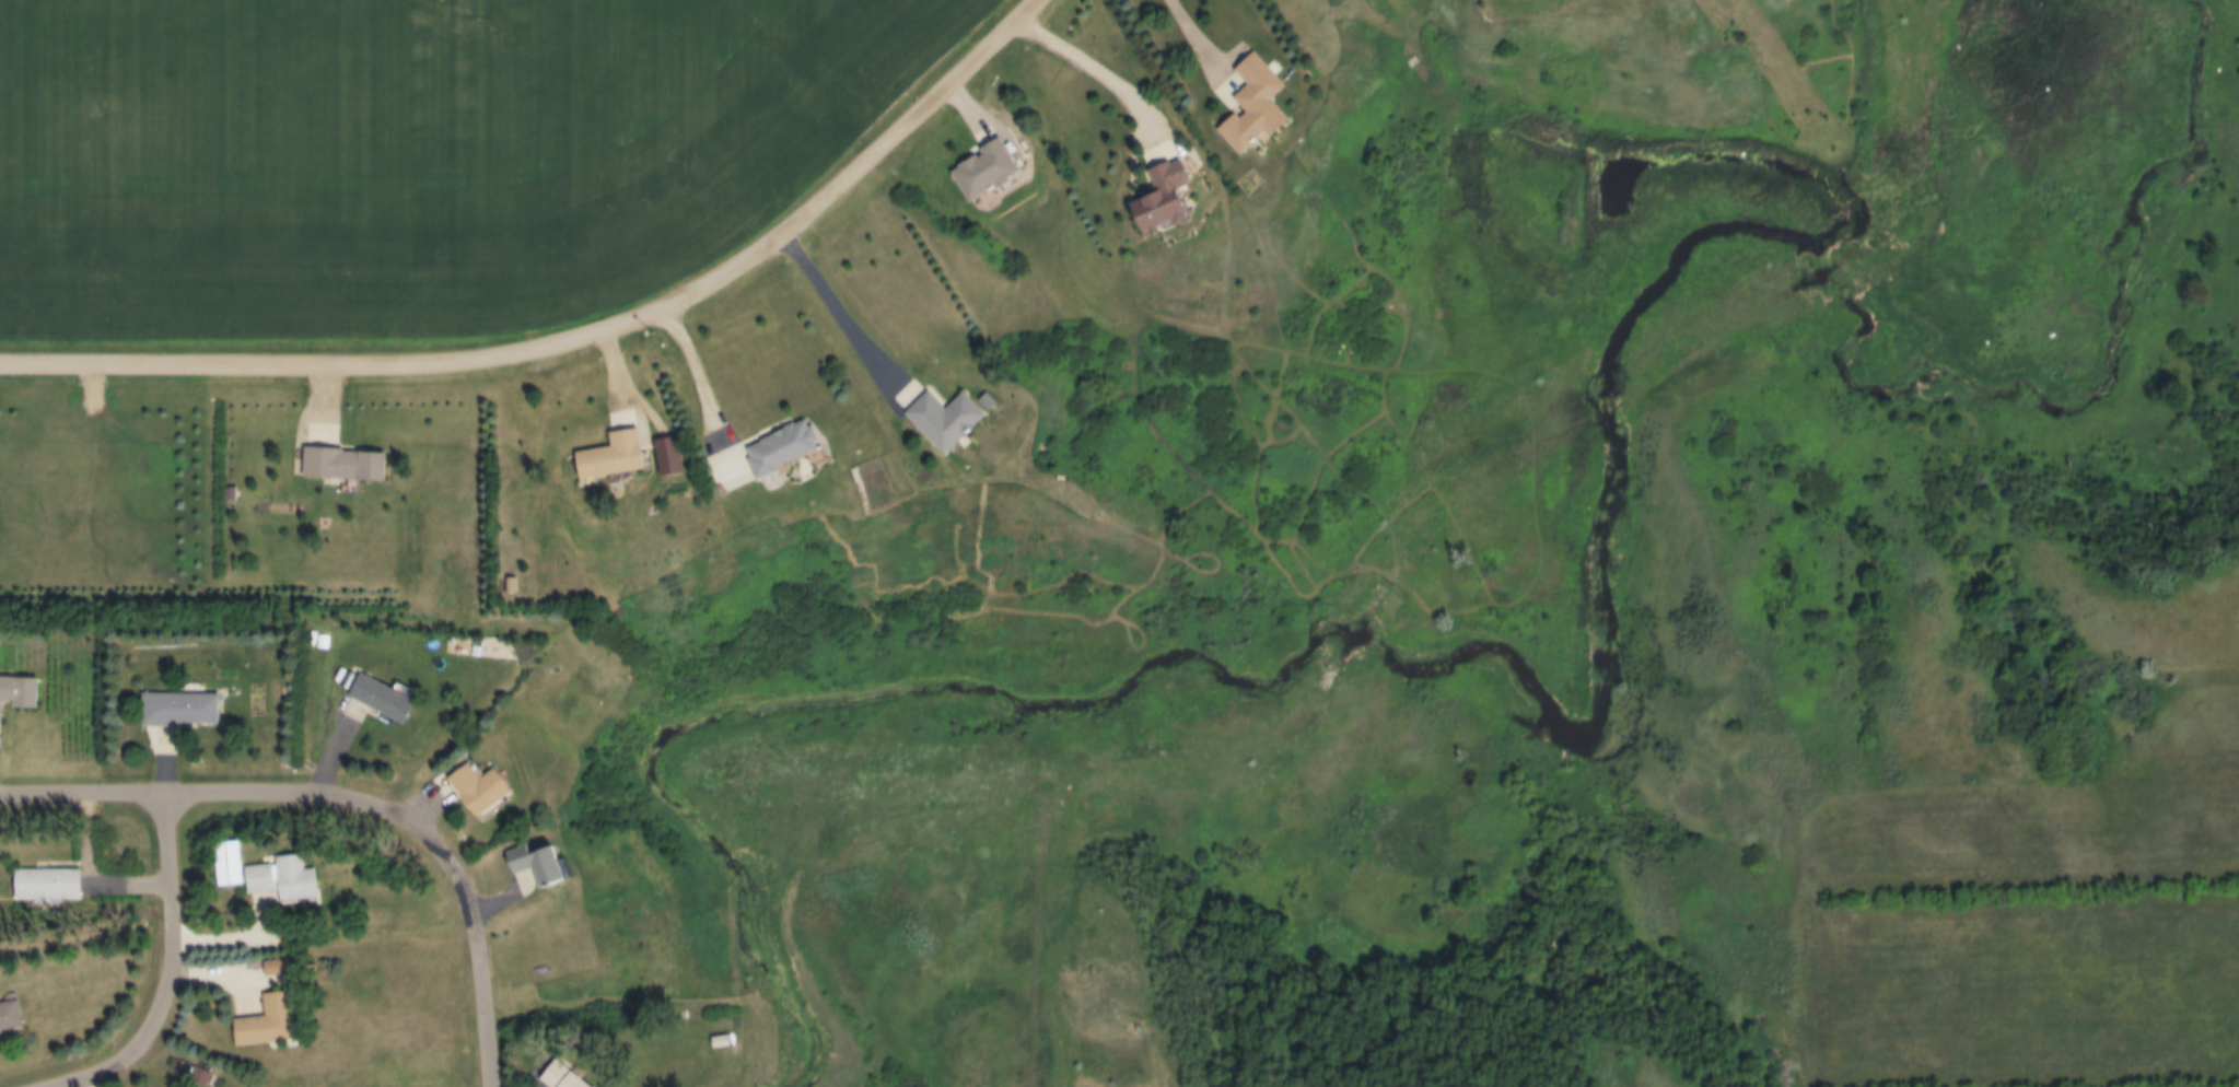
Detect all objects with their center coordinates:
road: (1187, 35)
road: (1110, 60)
building: (1244, 104)
building: (982, 170)
building: (1158, 198)
road: (847, 314)
road: (573, 339)
road: (672, 362)
building: (936, 418)
building: (758, 455)
building: (606, 457)
building: (339, 465)
building: (502, 586)
building: (18, 692)
building: (373, 699)
building: (179, 710)
river: (1609, 722)
building: (462, 788)
road: (303, 792)
building: (516, 864)
building: (260, 876)
building: (44, 886)
road: (170, 926)
building: (9, 1016)
building: (261, 1021)
road: (492, 1031)
building: (714, 1043)
road: (85, 1073)
building: (549, 1077)

